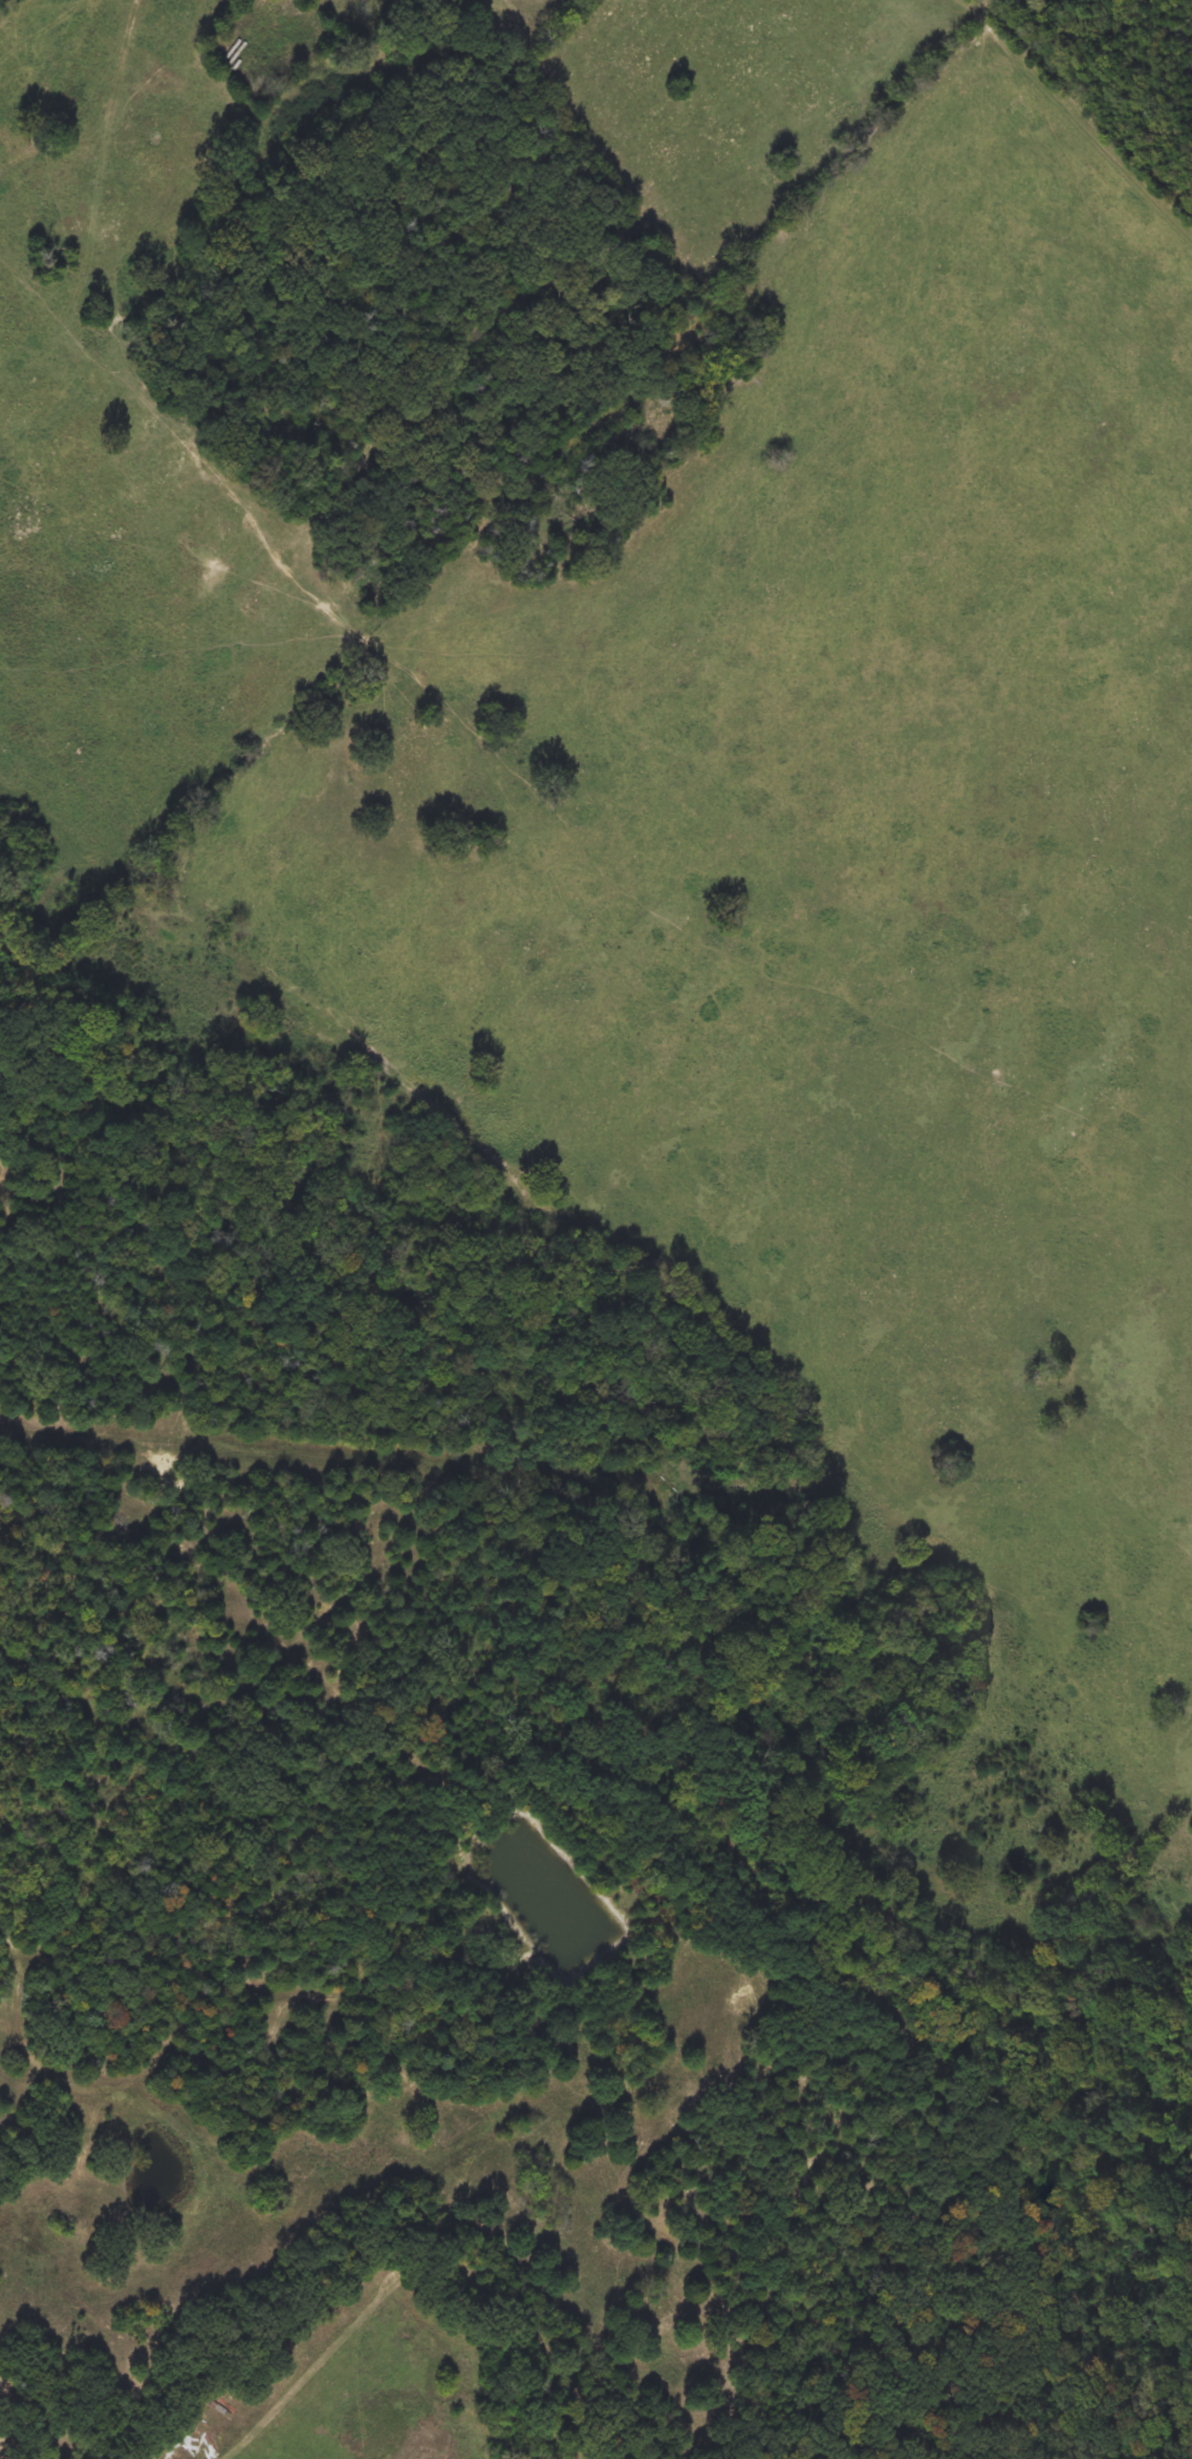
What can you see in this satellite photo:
road: (293, 30)

